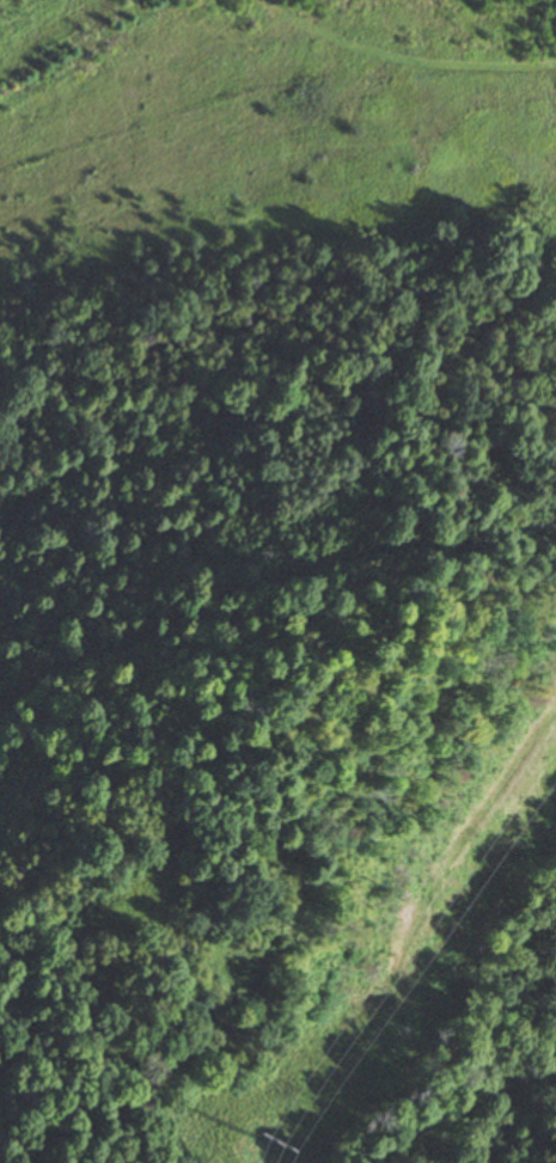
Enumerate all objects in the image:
power tower: (270, 1140)

